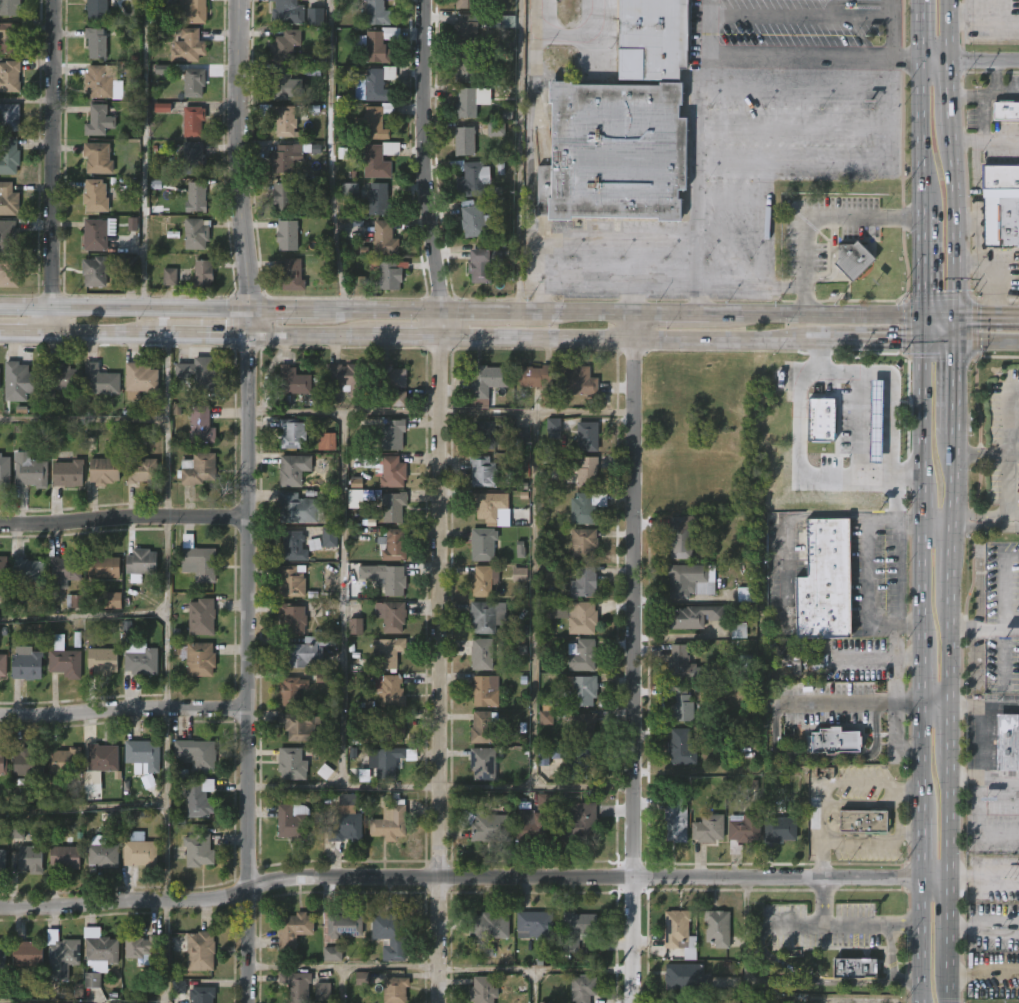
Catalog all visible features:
building: (469, 4)
building: (1018, 5)
building: (10, 7)
building: (100, 9)
building: (186, 12)
building: (286, 12)
building: (375, 12)
road: (977, 16)
road: (1004, 17)
building: (505, 21)
road: (893, 28)
building: (468, 29)
road: (921, 29)
road: (950, 29)
road: (576, 32)
building: (10, 38)
building: (651, 39)
building: (98, 43)
building: (382, 44)
building: (288, 45)
building: (190, 46)
road: (811, 56)
road: (935, 59)
road: (984, 59)
building: (468, 66)
building: (163, 69)
building: (10, 76)
building: (103, 81)
building: (196, 81)
building: (376, 84)
building: (289, 86)
road: (991, 94)
road: (1008, 94)
road: (950, 97)
building: (465, 102)
building: (162, 108)
building: (1006, 109)
building: (10, 117)
road: (981, 117)
building: (283, 118)
building: (197, 119)
building: (100, 120)
building: (378, 122)
road: (921, 136)
building: (467, 141)
road: (985, 141)
building: (615, 153)
road: (142, 154)
building: (9, 155)
road: (236, 156)
road: (330, 156)
road: (518, 156)
road: (532, 156)
road: (700, 157)
building: (99, 158)
building: (197, 158)
building: (287, 158)
building: (378, 158)
road: (820, 162)
road: (55, 166)
road: (423, 169)
building: (473, 177)
building: (998, 178)
building: (350, 191)
building: (97, 196)
building: (198, 197)
building: (289, 199)
building: (9, 200)
building: (381, 200)
road: (951, 200)
road: (814, 214)
building: (476, 220)
building: (1000, 221)
building: (132, 224)
building: (99, 234)
building: (198, 234)
building: (9, 236)
building: (289, 236)
building: (387, 238)
road: (975, 242)
building: (858, 261)
building: (485, 265)
road: (922, 265)
building: (96, 272)
building: (9, 274)
building: (204, 274)
building: (294, 275)
building: (393, 275)
building: (170, 276)
road: (584, 281)
road: (649, 282)
road: (991, 283)
road: (753, 286)
road: (952, 291)
road: (123, 308)
traffic signals: (246, 312)
road: (584, 313)
traffic signals: (923, 317)
road: (938, 317)
traffic signals: (953, 318)
road: (972, 318)
road: (1005, 318)
road: (246, 323)
road: (634, 326)
road: (923, 329)
road: (952, 330)
road: (26, 333)
road: (110, 333)
road: (207, 335)
traffic signals: (247, 335)
road: (308, 335)
road: (407, 337)
road: (627, 338)
road: (846, 341)
road: (903, 342)
traffic signals: (923, 342)
road: (937, 342)
traffic signals: (952, 342)
road: (985, 342)
road: (883, 356)
road: (922, 356)
road: (845, 370)
road: (902, 371)
building: (199, 374)
building: (535, 376)
building: (63, 377)
building: (0, 378)
building: (142, 378)
building: (349, 378)
building: (292, 380)
building: (102, 381)
building: (21, 382)
building: (582, 382)
building: (489, 385)
road: (952, 387)
building: (389, 388)
building: (548, 399)
building: (850, 399)
road: (345, 412)
road: (539, 412)
road: (807, 412)
road: (883, 419)
building: (203, 425)
building: (553, 427)
building: (488, 433)
building: (294, 434)
building: (395, 434)
building: (522, 436)
building: (590, 437)
building: (326, 441)
road: (896, 458)
building: (846, 460)
building: (199, 468)
building: (295, 468)
building: (5, 470)
building: (29, 470)
building: (142, 470)
building: (391, 470)
building: (103, 471)
building: (486, 471)
building: (587, 472)
building: (65, 473)
road: (1006, 474)
road: (952, 476)
building: (356, 482)
road: (877, 490)
building: (358, 498)
building: (491, 504)
building: (396, 505)
building: (589, 506)
building: (295, 507)
road: (124, 518)
road: (1012, 519)
road: (937, 520)
road: (166, 522)
building: (329, 537)
building: (680, 538)
building: (485, 543)
building: (586, 543)
building: (397, 544)
building: (292, 546)
building: (194, 558)
road: (951, 559)
building: (140, 562)
building: (101, 566)
building: (2, 567)
building: (25, 569)
building: (62, 570)
building: (520, 574)
building: (387, 577)
building: (684, 579)
building: (291, 580)
building: (824, 580)
building: (482, 581)
building: (585, 582)
building: (707, 583)
road: (1007, 585)
building: (746, 594)
building: (112, 600)
road: (343, 600)
road: (534, 600)
building: (75, 601)
road: (82, 616)
building: (200, 616)
building: (390, 616)
building: (485, 616)
building: (580, 617)
building: (691, 617)
building: (294, 618)
road: (875, 625)
building: (356, 626)
road: (985, 629)
building: (738, 630)
building: (388, 650)
building: (304, 651)
road: (950, 651)
building: (481, 653)
building: (586, 655)
building: (195, 657)
building: (63, 659)
building: (100, 660)
building: (139, 660)
building: (786, 662)
building: (819, 662)
building: (25, 663)
building: (680, 663)
building: (2, 666)
building: (749, 667)
road: (250, 668)
road: (442, 670)
road: (634, 670)
road: (921, 686)
building: (582, 689)
building: (293, 690)
building: (389, 691)
building: (483, 691)
road: (866, 703)
building: (679, 704)
road: (984, 705)
road: (124, 709)
building: (546, 714)
building: (300, 725)
building: (587, 725)
building: (396, 726)
building: (485, 726)
road: (950, 731)
road: (981, 741)
building: (832, 742)
building: (1009, 743)
building: (680, 746)
building: (194, 754)
building: (141, 755)
building: (100, 758)
building: (543, 759)
building: (578, 760)
building: (2, 761)
building: (63, 761)
building: (387, 762)
building: (25, 763)
building: (291, 763)
building: (484, 763)
road: (985, 779)
building: (148, 781)
building: (92, 782)
road: (827, 784)
road: (345, 788)
road: (538, 788)
building: (197, 798)
road: (165, 804)
road: (82, 808)
road: (950, 818)
building: (678, 819)
building: (537, 820)
building: (292, 821)
building: (389, 821)
building: (863, 822)
building: (344, 823)
building: (581, 824)
building: (484, 827)
building: (780, 828)
building: (708, 829)
building: (17, 830)
building: (742, 830)
road: (908, 832)
road: (881, 841)
building: (138, 849)
building: (197, 849)
building: (101, 853)
building: (63, 857)
building: (28, 858)
building: (2, 861)
road: (473, 877)
road: (984, 879)
road: (819, 900)
road: (843, 921)
building: (534, 924)
building: (487, 925)
building: (343, 926)
road: (949, 926)
building: (292, 928)
building: (576, 928)
building: (719, 928)
road: (984, 929)
building: (673, 930)
building: (389, 935)
building: (99, 945)
building: (140, 947)
building: (60, 948)
building: (199, 949)
building: (1, 950)
road: (166, 950)
building: (27, 951)
building: (333, 954)
road: (887, 962)
building: (854, 966)
road: (344, 967)
road: (537, 968)
road: (984, 975)
building: (688, 977)
building: (362, 978)
road: (343, 984)
building: (295, 985)
building: (179, 986)
building: (485, 989)
building: (585, 989)
road: (949, 989)
building: (397, 990)
building: (323, 991)
building: (201, 994)
road: (83, 1000)
building: (680, 1001)
building: (733, 1001)

